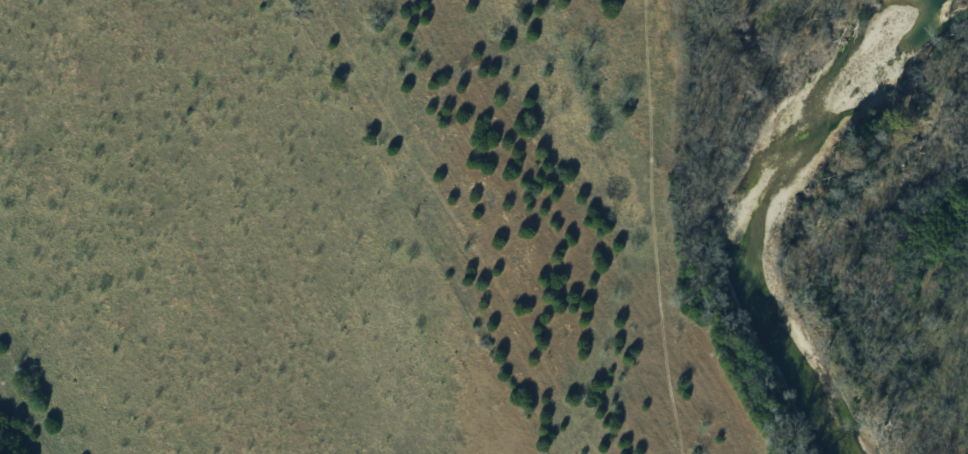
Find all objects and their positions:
river: (755, 208)

